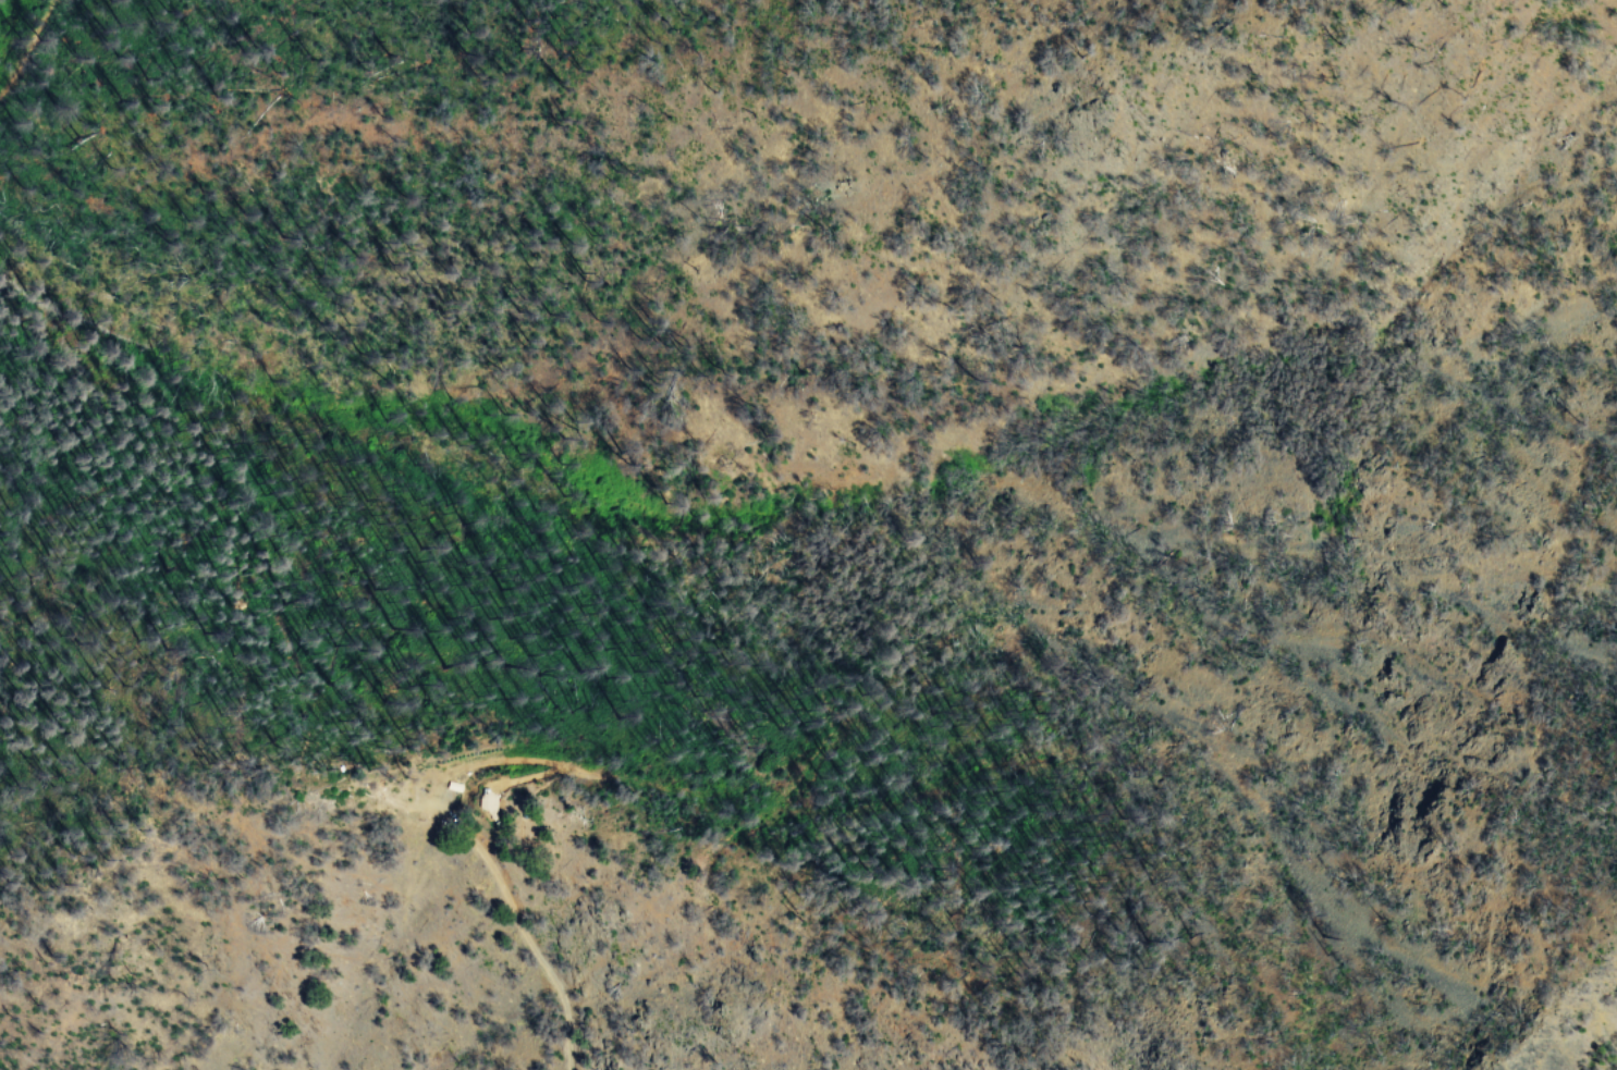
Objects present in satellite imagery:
road: (394, 873)

